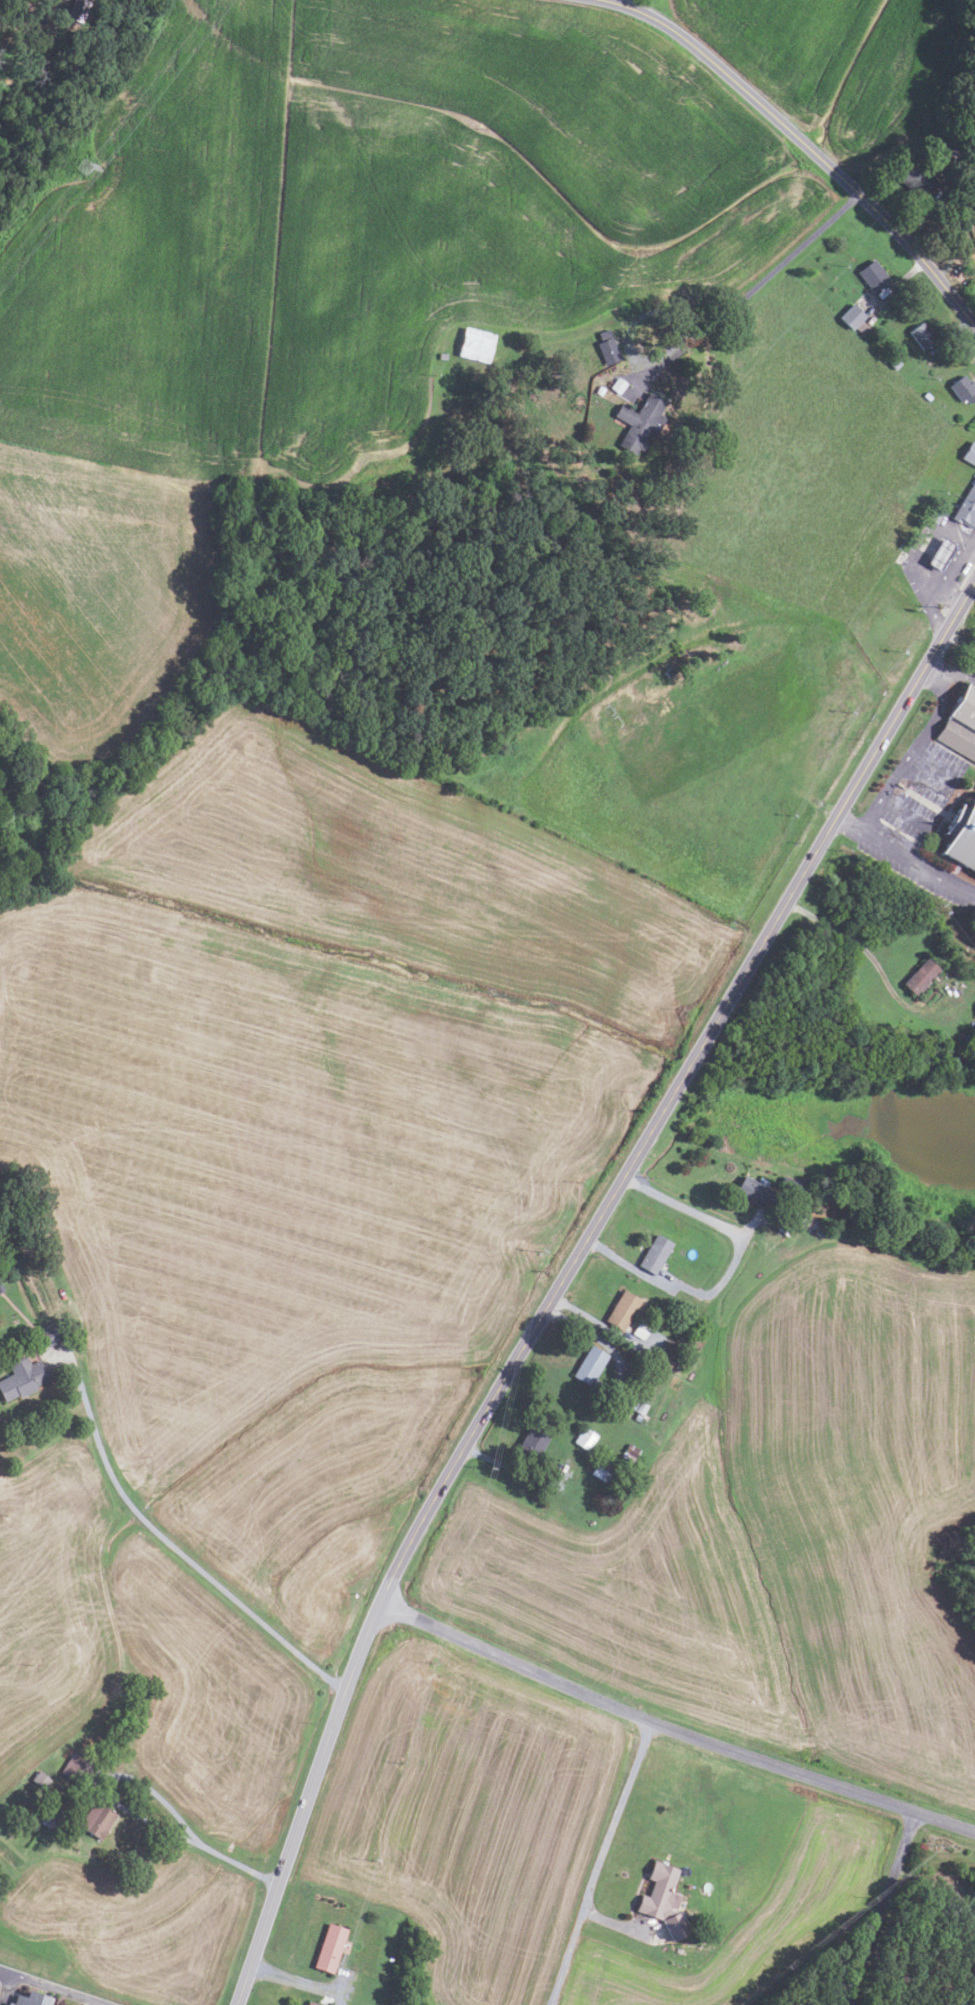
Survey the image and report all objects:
building: (78, 9)
crop: (838, 65)
road: (805, 146)
power tower: (85, 166)
building: (919, 180)
crop: (367, 226)
building: (874, 275)
building: (854, 318)
road: (704, 329)
building: (605, 335)
building: (922, 335)
building: (476, 344)
building: (608, 352)
building: (443, 355)
building: (896, 363)
building: (618, 385)
building: (964, 388)
building: (600, 390)
building: (927, 396)
building: (640, 421)
building: (970, 453)
building: (967, 507)
building: (935, 516)
building: (941, 554)
crop: (99, 596)
road: (960, 638)
building: (669, 672)
road: (948, 678)
building: (961, 725)
road: (905, 755)
building: (962, 837)
road: (904, 856)
road: (871, 959)
building: (921, 977)
building: (790, 1183)
building: (754, 1193)
building: (818, 1231)
building: (655, 1254)
road: (564, 1273)
road: (728, 1273)
building: (0, 1289)
building: (672, 1290)
building: (622, 1310)
building: (640, 1331)
building: (52, 1334)
building: (668, 1354)
building: (590, 1365)
building: (678, 1365)
building: (636, 1374)
building: (22, 1378)
building: (633, 1404)
building: (641, 1408)
building: (638, 1418)
building: (584, 1438)
building: (534, 1441)
building: (632, 1450)
road: (509, 1467)
building: (601, 1471)
road: (170, 1544)
building: (139, 1688)
road: (671, 1729)
building: (75, 1766)
building: (41, 1779)
road: (147, 1787)
building: (48, 1819)
building: (97, 1820)
road: (599, 1863)
road: (933, 1884)
building: (663, 1900)
building: (949, 1906)
road: (880, 1908)
building: (974, 1917)
road: (613, 1922)
building: (329, 1948)
building: (951, 1951)
road: (294, 1976)
road: (293, 1984)
road: (50, 1988)
building: (29, 1999)
building: (311, 2003)

